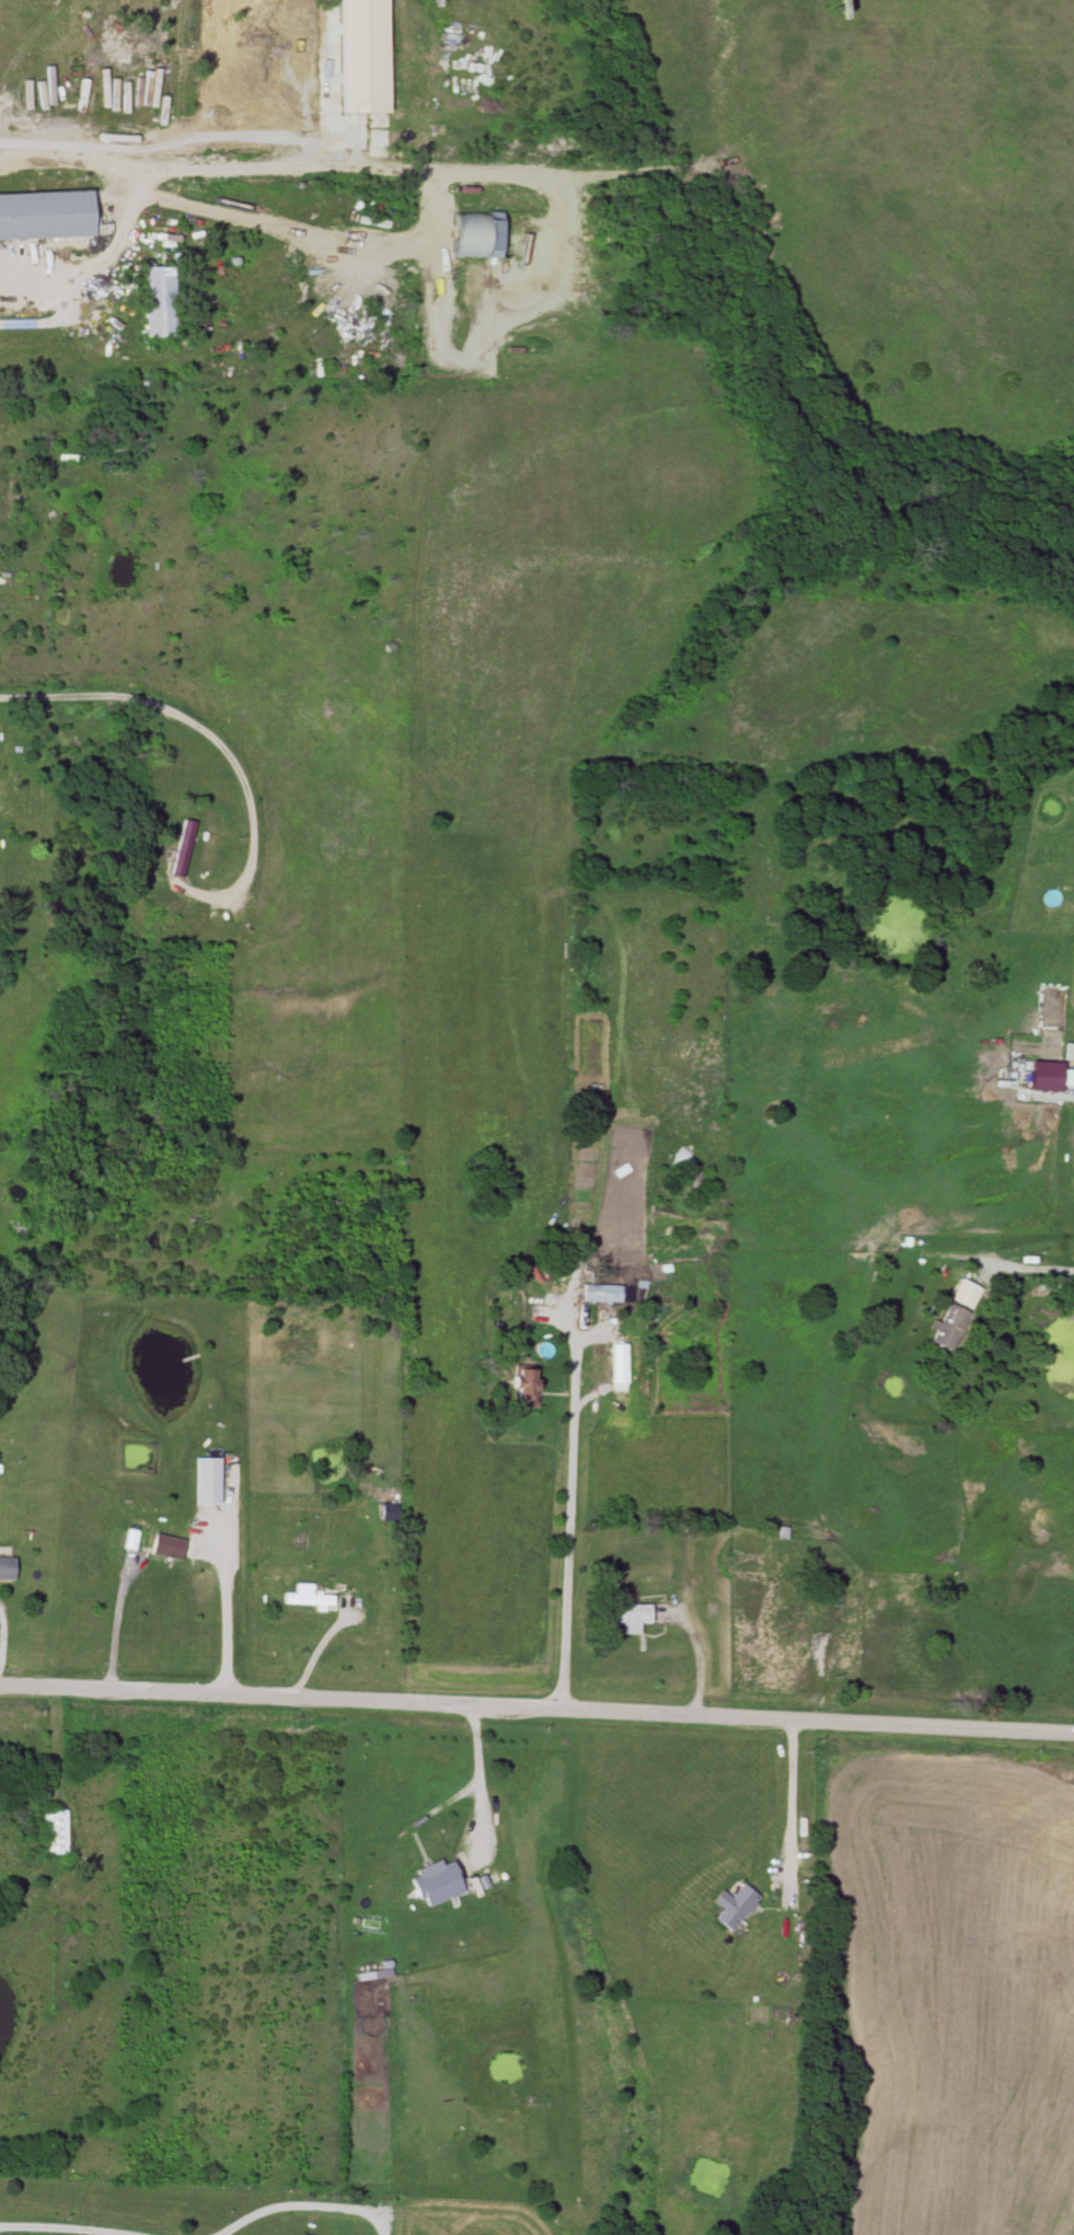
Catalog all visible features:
building: (357, 57)
road: (282, 163)
road: (138, 204)
building: (42, 216)
road: (289, 229)
building: (473, 234)
road: (562, 240)
road: (438, 253)
building: (154, 302)
road: (217, 745)
building: (180, 849)
building: (1073, 1162)
road: (1027, 1263)
building: (600, 1294)
building: (960, 1295)
building: (945, 1327)
building: (206, 1482)
road: (568, 1515)
building: (129, 1541)
building: (164, 1549)
building: (7, 1568)
building: (305, 1598)
building: (626, 1616)
road: (116, 1621)
road: (219, 1622)
building: (796, 1622)
road: (2, 1635)
road: (536, 1703)
road: (470, 1777)
building: (53, 1832)
road: (787, 1845)
road: (27, 1871)
building: (436, 1883)
building: (732, 1908)
road: (65, 2224)

